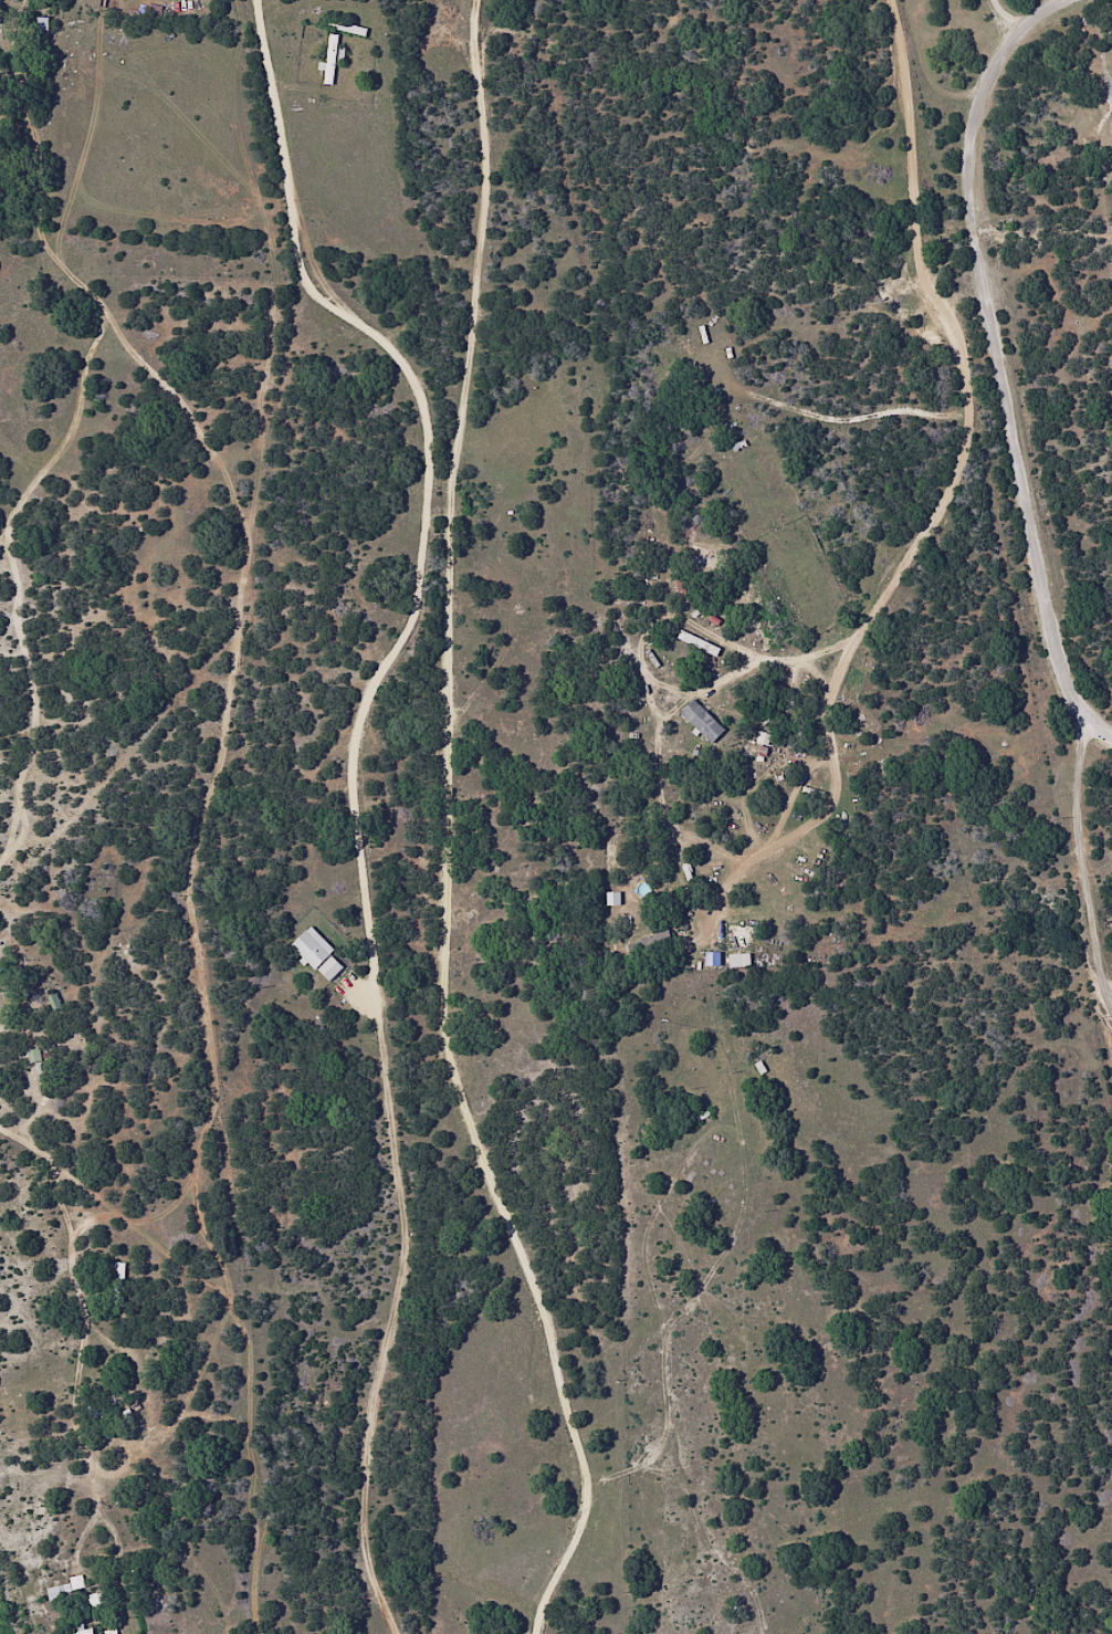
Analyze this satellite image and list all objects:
building: (331, 57)
road: (1005, 358)
road: (426, 481)
road: (17, 514)
building: (696, 643)
building: (700, 721)
road: (669, 733)
building: (763, 740)
road: (448, 831)
road: (804, 834)
road: (1079, 862)
building: (649, 946)
building: (316, 954)
building: (737, 961)
building: (53, 1003)
building: (33, 1057)
building: (117, 1282)
road: (85, 1403)
road: (634, 1466)
building: (64, 1588)
building: (94, 1601)
building: (81, 1632)

